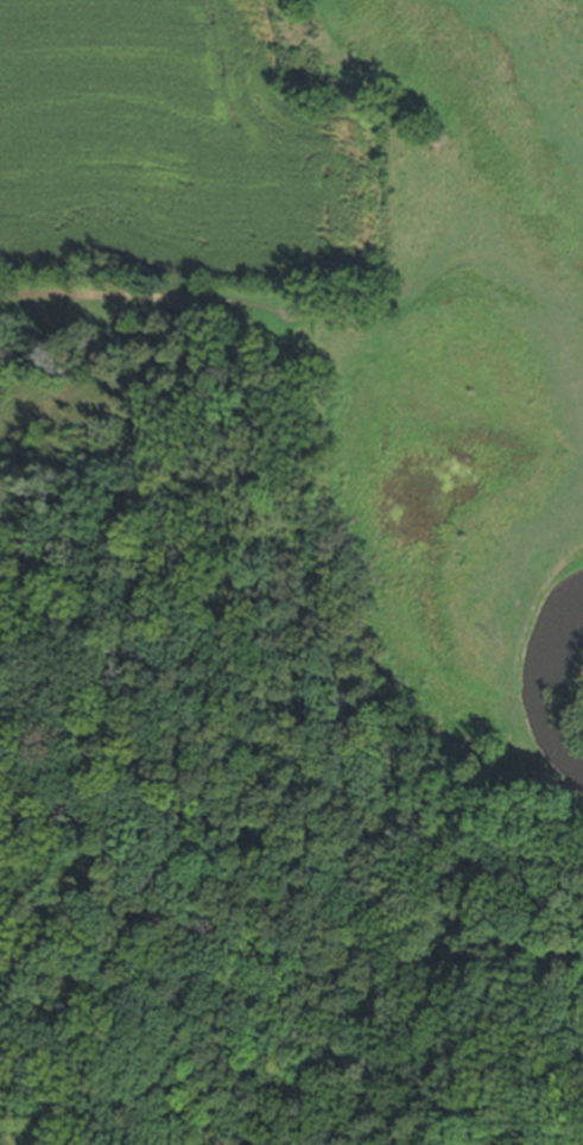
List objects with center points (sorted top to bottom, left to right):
river: (577, 666)

